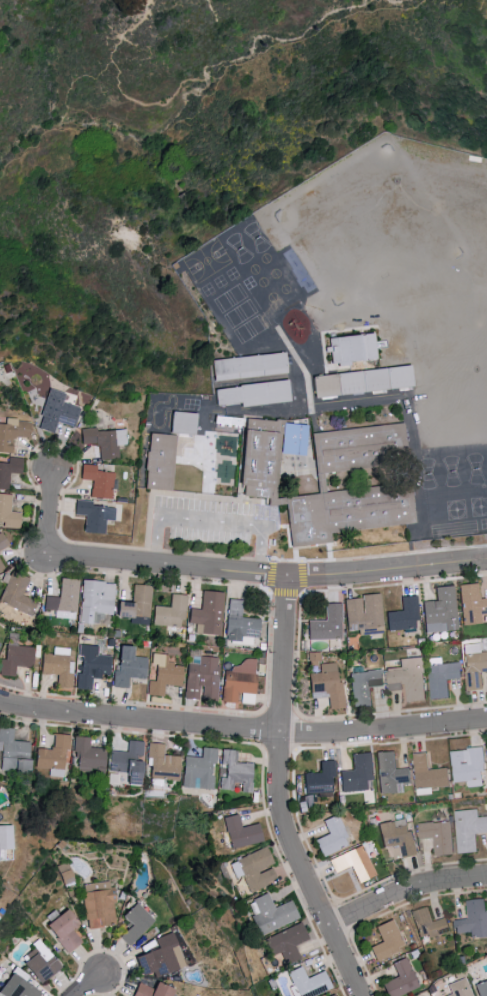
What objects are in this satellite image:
road: (183, 111)
road: (33, 137)
park: (194, 156)
building: (350, 348)
building: (250, 369)
building: (368, 387)
building: (255, 396)
building: (55, 411)
building: (180, 423)
building: (189, 429)
building: (12, 432)
building: (291, 439)
building: (102, 441)
building: (361, 450)
building: (261, 461)
building: (161, 464)
building: (9, 470)
building: (96, 481)
road: (63, 493)
building: (7, 512)
road: (49, 513)
building: (349, 514)
building: (92, 515)
road: (211, 521)
parking lot: (222, 523)
building: (2, 542)
road: (165, 565)
building: (1, 567)
road: (387, 570)
road: (270, 593)
building: (15, 594)
building: (63, 597)
building: (94, 600)
building: (134, 603)
building: (472, 605)
building: (169, 612)
building: (441, 613)
building: (206, 614)
building: (364, 616)
building: (404, 616)
building: (238, 624)
building: (327, 625)
building: (15, 655)
road: (297, 657)
building: (313, 662)
building: (89, 666)
building: (127, 667)
building: (475, 671)
building: (163, 675)
building: (201, 678)
building: (409, 679)
building: (442, 679)
building: (239, 683)
building: (364, 687)
building: (329, 688)
road: (243, 729)
building: (14, 754)
building: (53, 754)
building: (89, 757)
building: (129, 763)
building: (161, 765)
building: (469, 766)
building: (198, 771)
building: (390, 773)
building: (357, 774)
building: (234, 775)
building: (428, 775)
building: (320, 781)
road: (280, 794)
building: (468, 829)
building: (240, 833)
building: (5, 837)
building: (398, 837)
building: (438, 837)
building: (332, 839)
building: (354, 865)
building: (253, 870)
road: (405, 893)
building: (486, 900)
building: (99, 906)
building: (272, 916)
building: (473, 920)
building: (429, 924)
building: (135, 925)
building: (65, 931)
building: (387, 942)
building: (287, 944)
building: (162, 959)
building: (40, 970)
building: (401, 981)
building: (310, 983)
road: (90, 986)
building: (18, 988)
building: (460, 988)
building: (481, 988)
building: (153, 990)
building: (332, 995)

